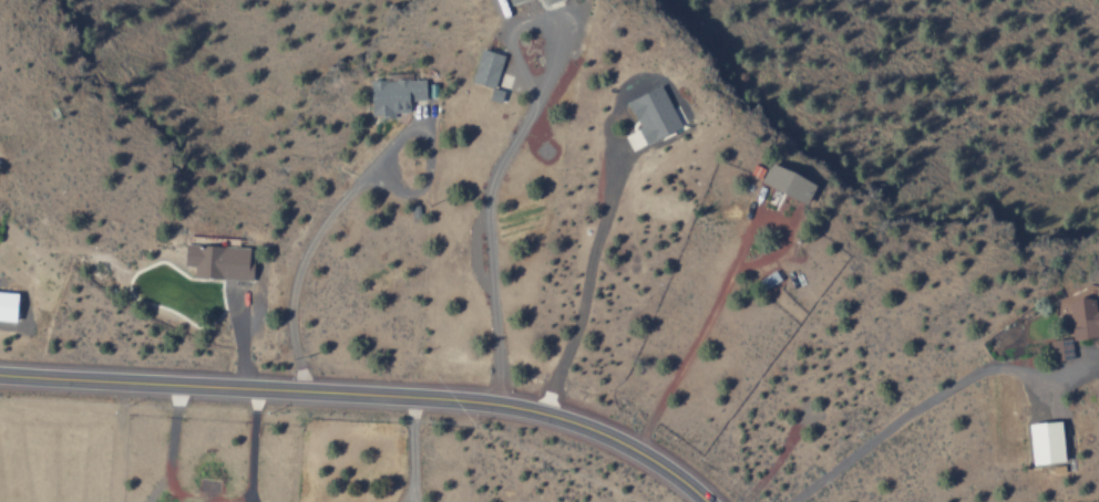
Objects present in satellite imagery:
building: (512, 1)
building: (544, 1)
building: (484, 67)
building: (493, 94)
building: (391, 95)
building: (650, 113)
building: (783, 182)
building: (215, 261)
building: (7, 305)
building: (1083, 312)
building: (1059, 348)
road: (364, 391)
building: (1042, 441)

